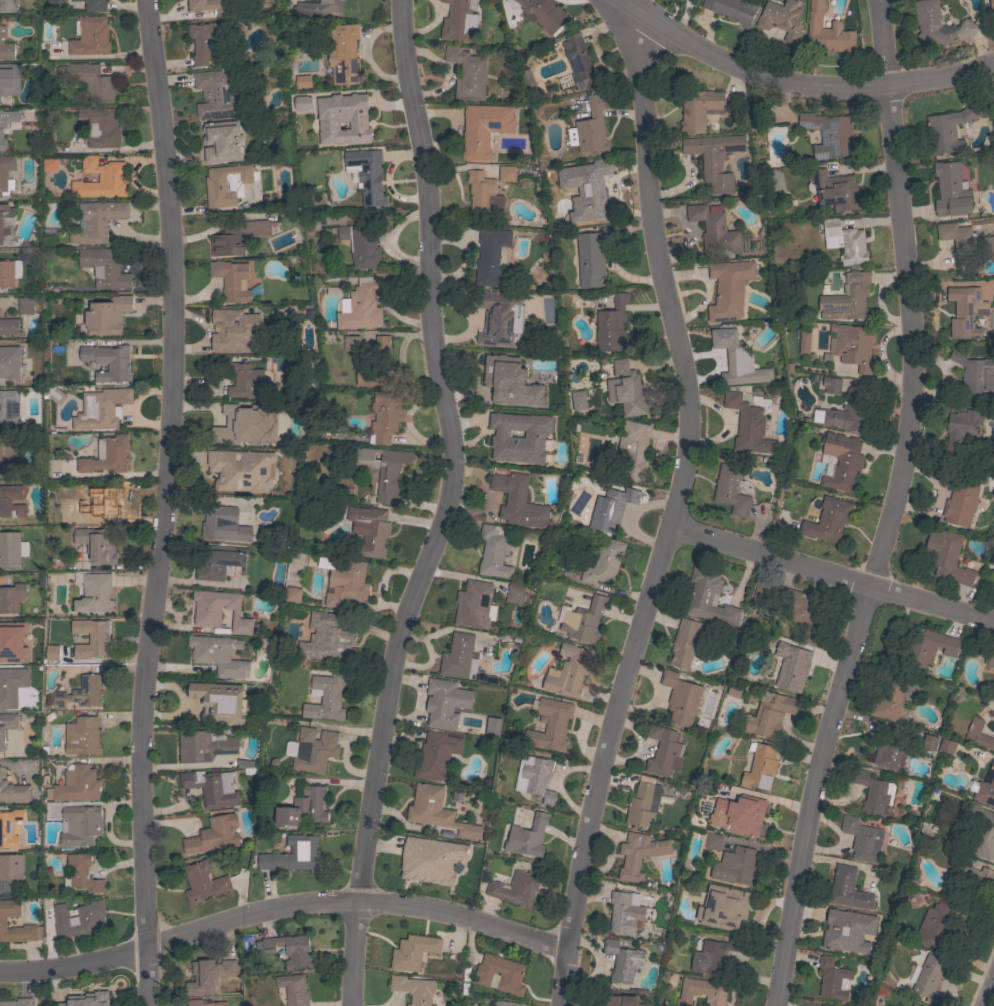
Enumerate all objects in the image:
building: (95, 5)
building: (209, 6)
building: (991, 6)
building: (316, 7)
building: (732, 9)
building: (543, 14)
building: (782, 19)
building: (458, 22)
building: (928, 25)
building: (827, 31)
road: (625, 35)
building: (90, 36)
road: (638, 37)
building: (204, 41)
building: (5, 46)
road: (655, 50)
building: (344, 53)
building: (579, 61)
building: (467, 73)
building: (527, 79)
building: (7, 80)
building: (91, 81)
building: (303, 81)
road: (802, 83)
building: (215, 93)
building: (0, 100)
building: (705, 108)
building: (351, 114)
building: (6, 124)
building: (101, 127)
building: (951, 127)
building: (590, 129)
building: (830, 134)
building: (479, 139)
building: (222, 141)
building: (714, 159)
building: (49, 164)
building: (507, 173)
building: (6, 174)
building: (367, 174)
building: (100, 179)
building: (227, 184)
building: (836, 190)
building: (951, 191)
building: (593, 192)
building: (483, 196)
building: (96, 221)
building: (7, 225)
building: (714, 229)
building: (238, 237)
building: (845, 241)
building: (963, 242)
building: (365, 243)
building: (491, 256)
building: (592, 256)
building: (104, 267)
building: (7, 274)
building: (233, 281)
building: (724, 293)
building: (849, 299)
building: (362, 304)
building: (25, 305)
building: (965, 311)
building: (107, 316)
building: (495, 319)
building: (612, 325)
building: (9, 327)
building: (237, 327)
building: (350, 342)
building: (804, 342)
building: (853, 344)
building: (109, 361)
building: (740, 361)
building: (9, 362)
building: (378, 367)
building: (974, 375)
building: (243, 379)
building: (495, 379)
building: (831, 384)
building: (626, 389)
building: (578, 399)
building: (7, 405)
building: (101, 408)
building: (849, 411)
building: (384, 416)
building: (549, 420)
building: (748, 425)
building: (231, 427)
building: (961, 428)
building: (504, 440)
building: (633, 450)
building: (8, 455)
building: (107, 455)
building: (842, 461)
building: (50, 469)
building: (241, 470)
building: (384, 471)
building: (729, 486)
building: (5, 501)
building: (518, 501)
road: (160, 502)
building: (103, 503)
building: (960, 504)
road: (447, 505)
road: (888, 507)
building: (612, 508)
building: (827, 520)
building: (221, 526)
building: (370, 529)
road: (666, 542)
building: (97, 544)
building: (11, 549)
building: (494, 551)
building: (947, 556)
building: (218, 561)
building: (604, 562)
road: (833, 572)
building: (345, 583)
building: (94, 592)
building: (515, 593)
building: (291, 594)
building: (709, 597)
building: (11, 598)
building: (475, 605)
building: (795, 606)
building: (219, 610)
building: (582, 620)
building: (91, 639)
building: (327, 639)
building: (13, 642)
building: (687, 643)
building: (931, 647)
building: (46, 654)
building: (219, 655)
building: (462, 659)
building: (989, 660)
building: (791, 666)
building: (568, 672)
building: (11, 686)
building: (734, 689)
building: (81, 693)
building: (216, 697)
building: (326, 697)
building: (679, 698)
building: (890, 700)
building: (443, 703)
building: (993, 713)
building: (769, 715)
building: (550, 725)
building: (7, 726)
building: (978, 735)
building: (82, 736)
building: (204, 745)
building: (946, 745)
building: (314, 750)
building: (663, 751)
building: (890, 753)
building: (436, 756)
building: (247, 763)
building: (760, 766)
building: (536, 778)
building: (76, 784)
building: (212, 787)
building: (984, 787)
building: (13, 790)
building: (874, 792)
building: (641, 806)
building: (304, 807)
building: (436, 811)
building: (740, 814)
building: (80, 826)
building: (9, 828)
building: (983, 831)
building: (214, 835)
building: (527, 837)
building: (862, 839)
building: (712, 841)
building: (639, 854)
building: (293, 855)
building: (430, 859)
building: (735, 866)
building: (10, 872)
building: (82, 873)
building: (203, 881)
building: (974, 884)
building: (516, 888)
building: (848, 889)
building: (723, 908)
road: (281, 912)
building: (623, 913)
building: (79, 919)
building: (3, 920)
building: (935, 924)
building: (836, 930)
building: (290, 950)
building: (413, 951)
building: (712, 955)
building: (623, 960)
building: (500, 974)
building: (208, 975)
building: (831, 979)
building: (929, 979)
building: (293, 989)
building: (413, 989)
building: (702, 992)
road: (988, 992)
building: (87, 999)
building: (618, 1000)
building: (17, 1002)
building: (205, 1003)
building: (506, 1003)
building: (826, 1005)
building: (914, 1005)

